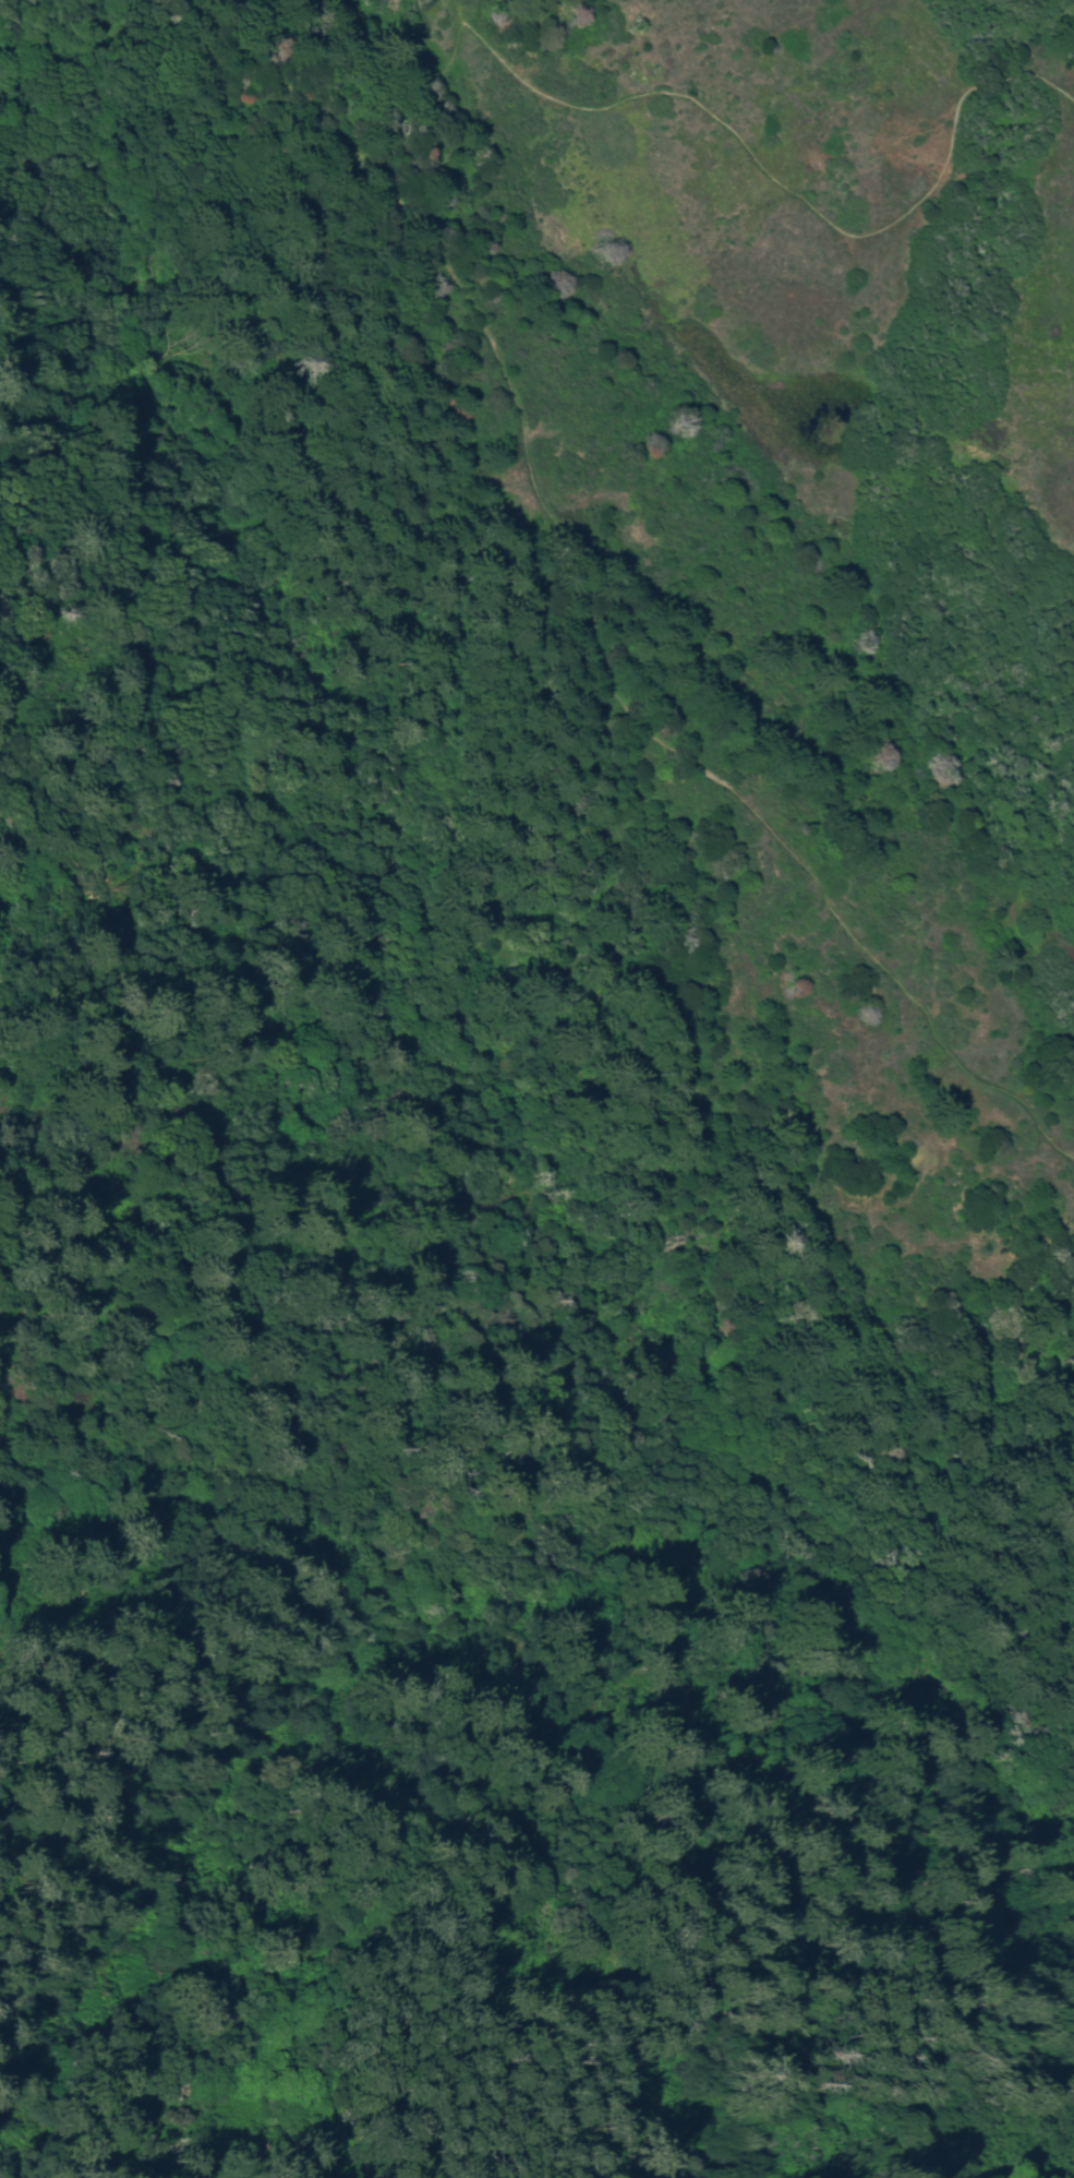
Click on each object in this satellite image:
road: (461, 11)
road: (794, 191)
road: (564, 534)

